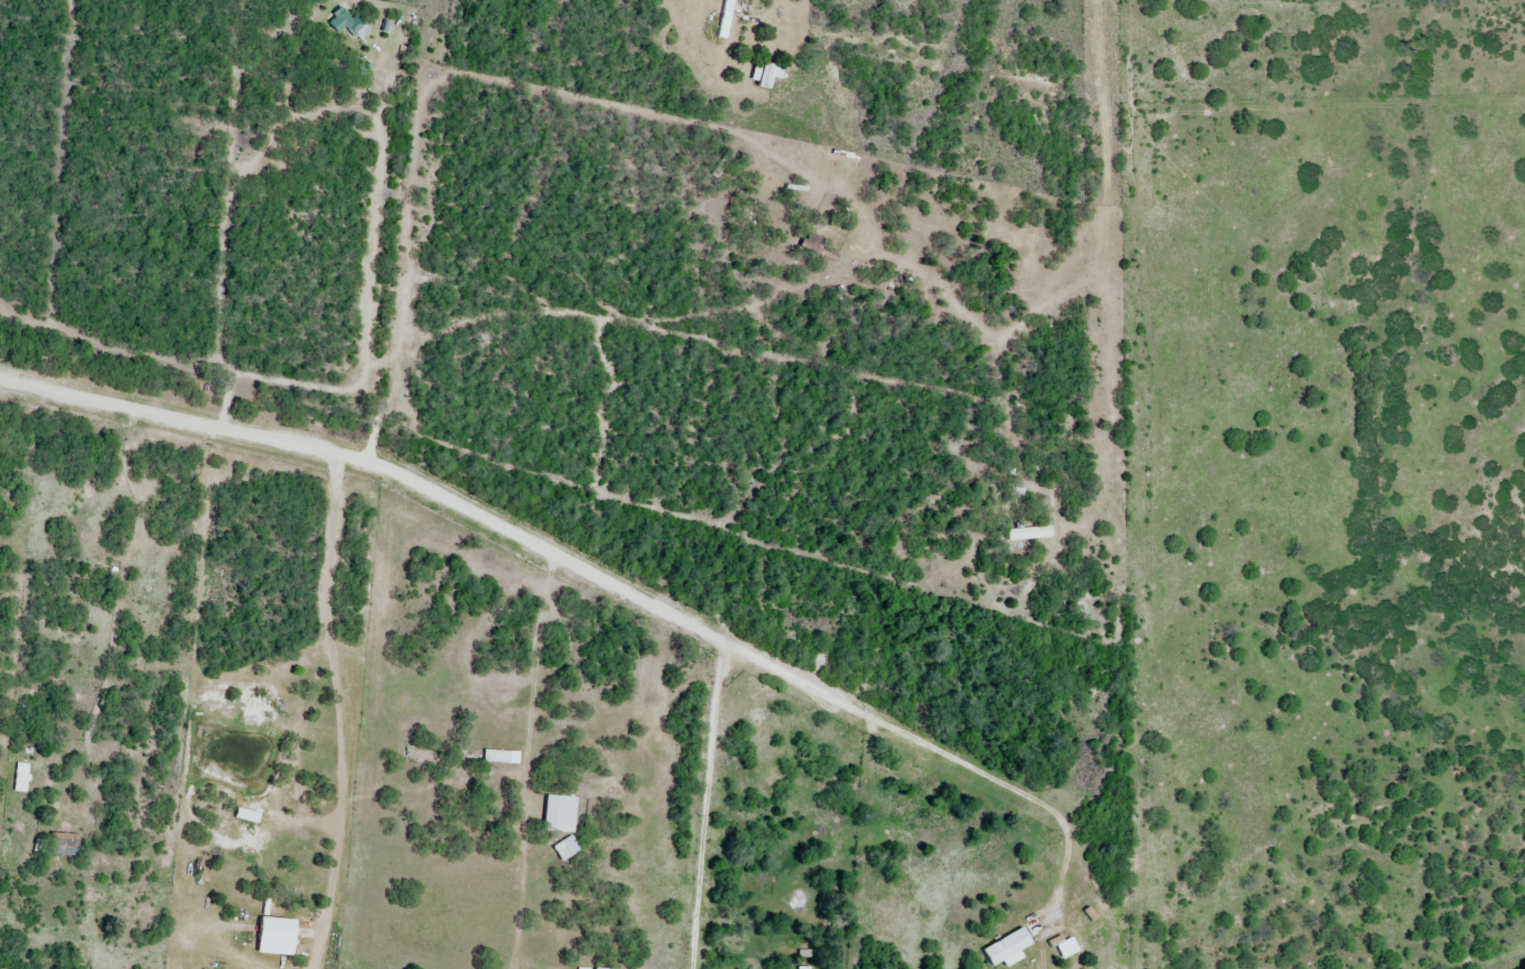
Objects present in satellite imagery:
building: (726, 18)
building: (346, 22)
road: (381, 120)
building: (818, 248)
building: (1030, 533)
road: (528, 540)
road: (534, 674)
building: (21, 778)
building: (560, 815)
road: (1065, 840)
building: (65, 845)
building: (566, 849)
building: (278, 931)
building: (579, 968)

